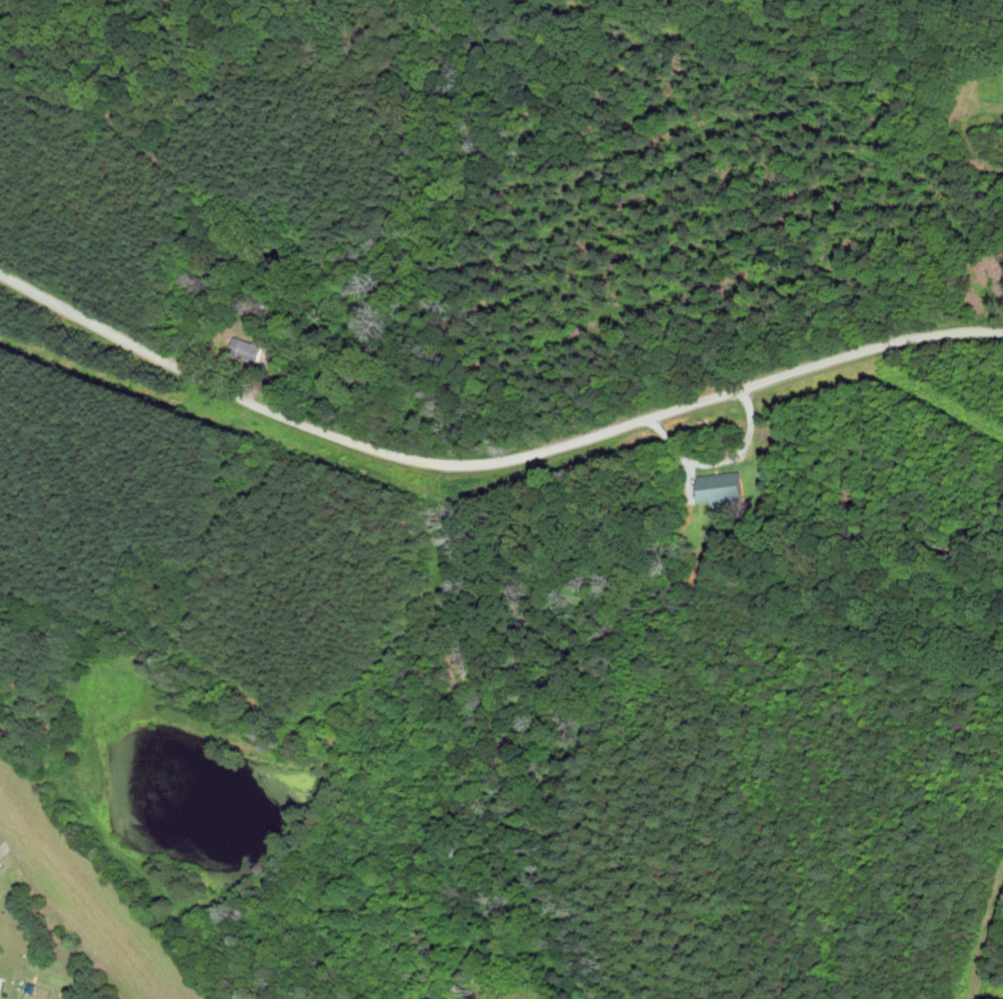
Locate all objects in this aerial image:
road: (489, 464)
building: (725, 486)
building: (2, 862)
airport runway: (86, 888)
building: (2, 983)

